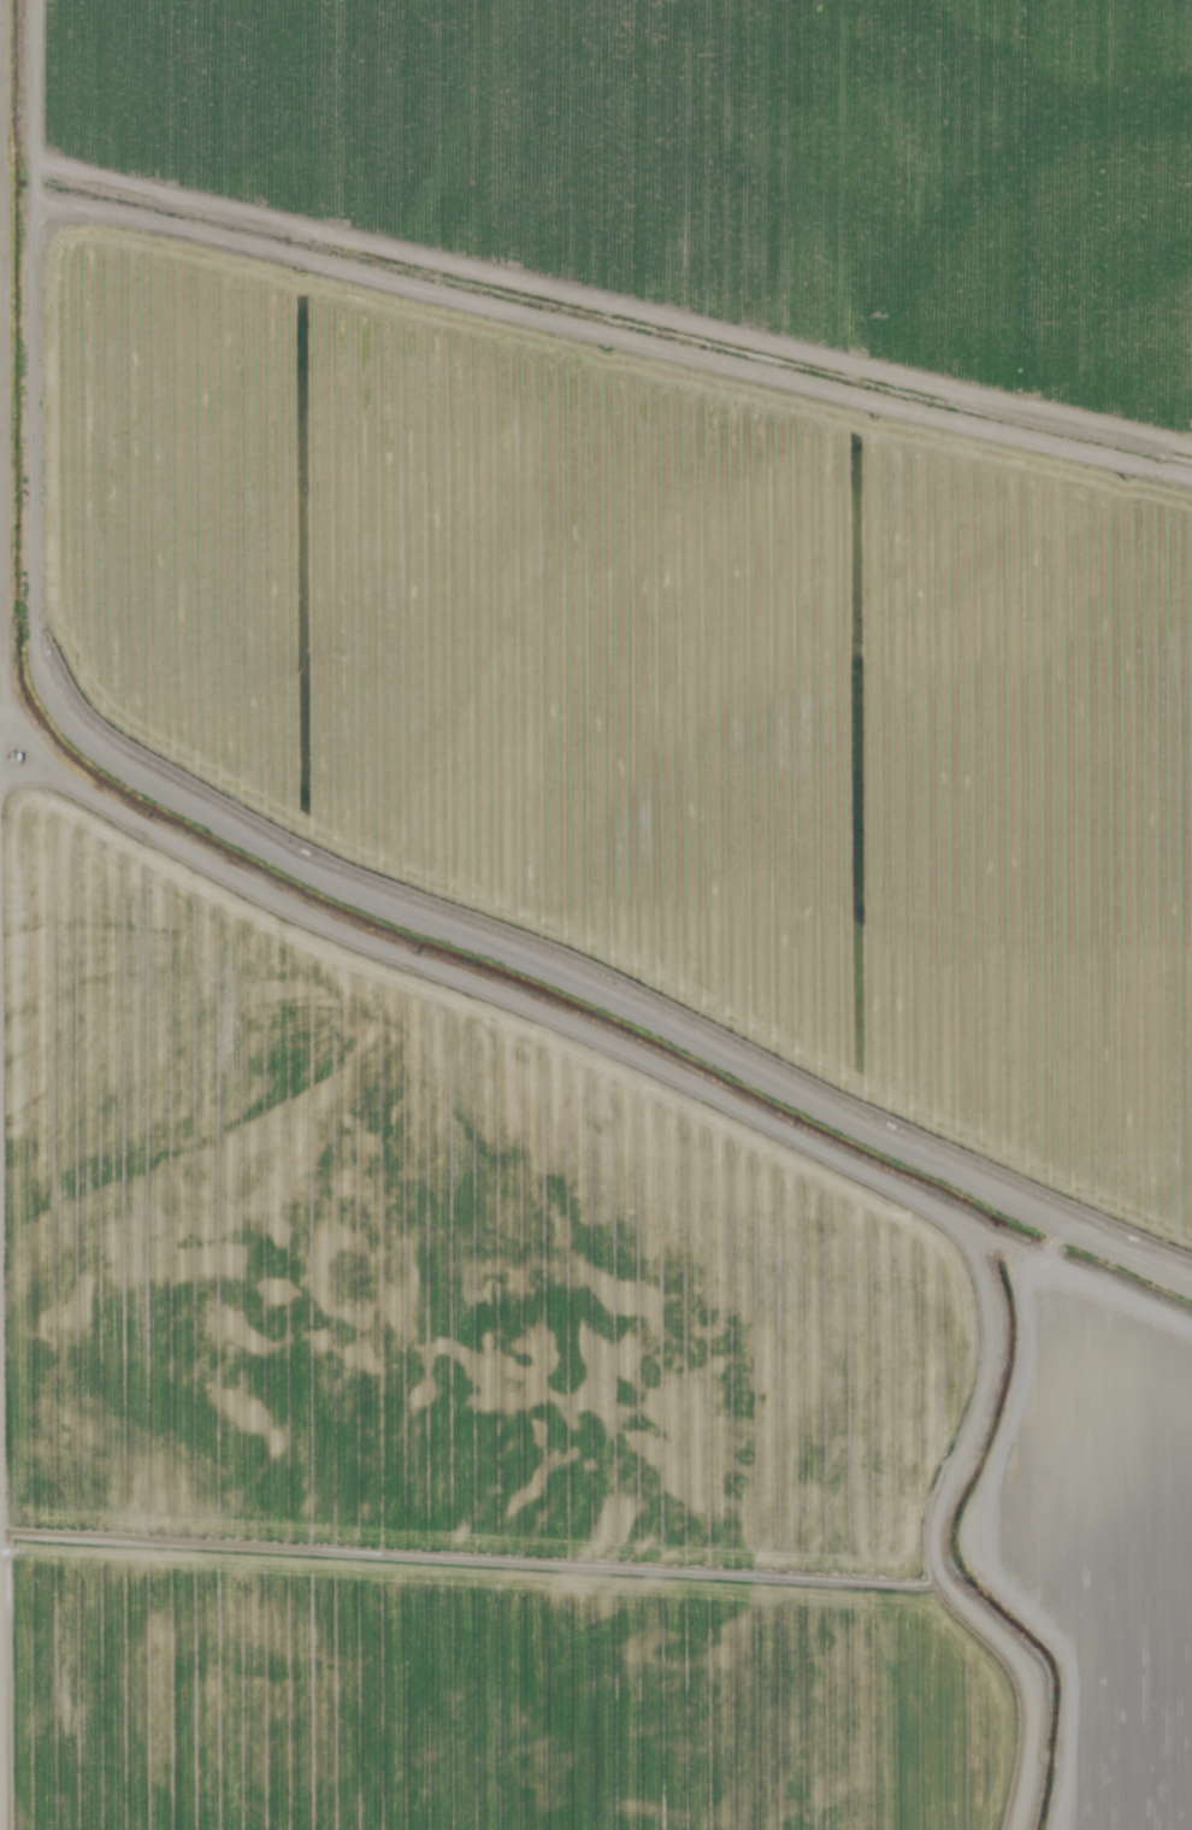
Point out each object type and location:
crop: (698, 513)
road: (35, 914)
crop: (1128, 1279)
crop: (468, 1417)
crop: (1122, 1549)

